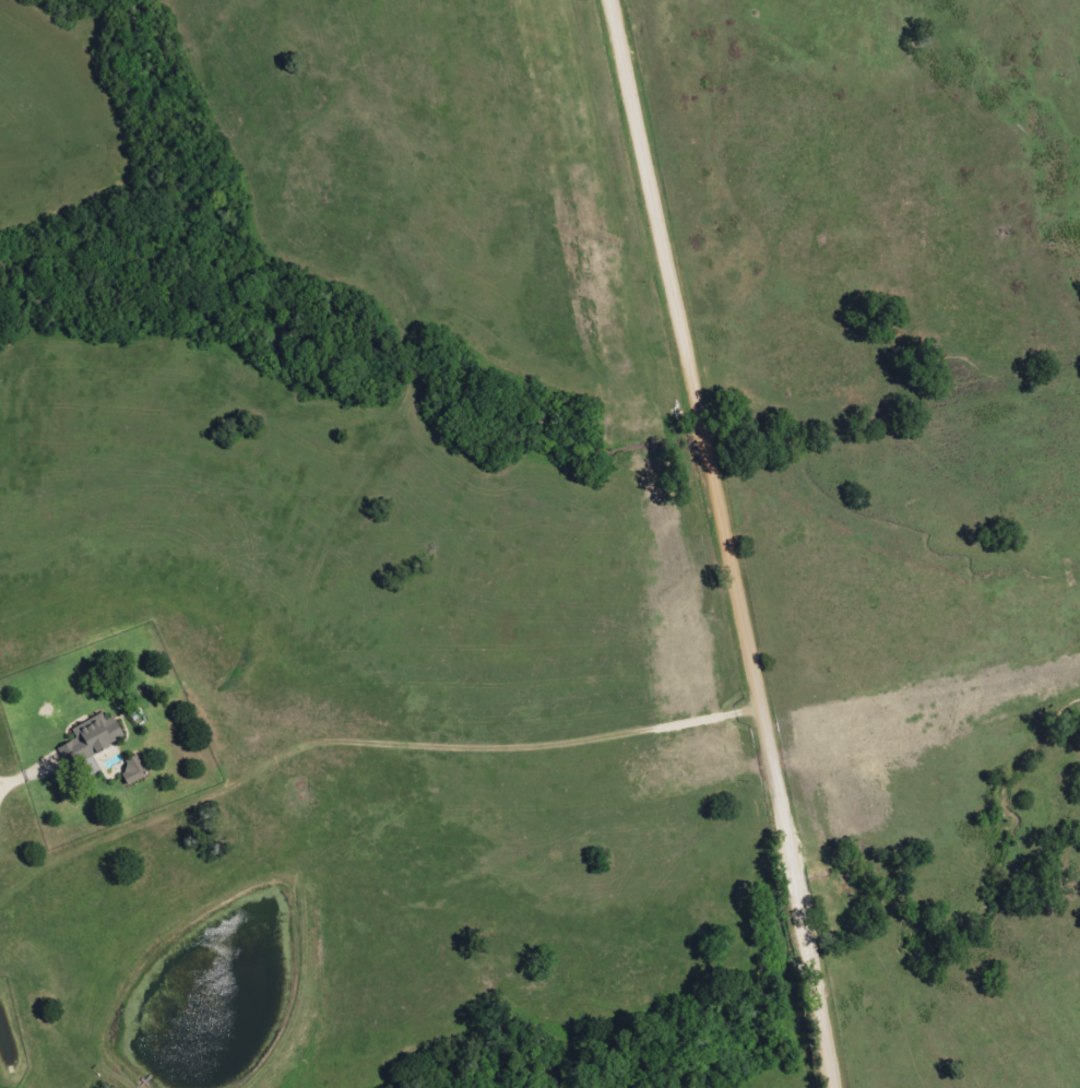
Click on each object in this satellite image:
road: (731, 542)
building: (92, 737)
building: (133, 770)

